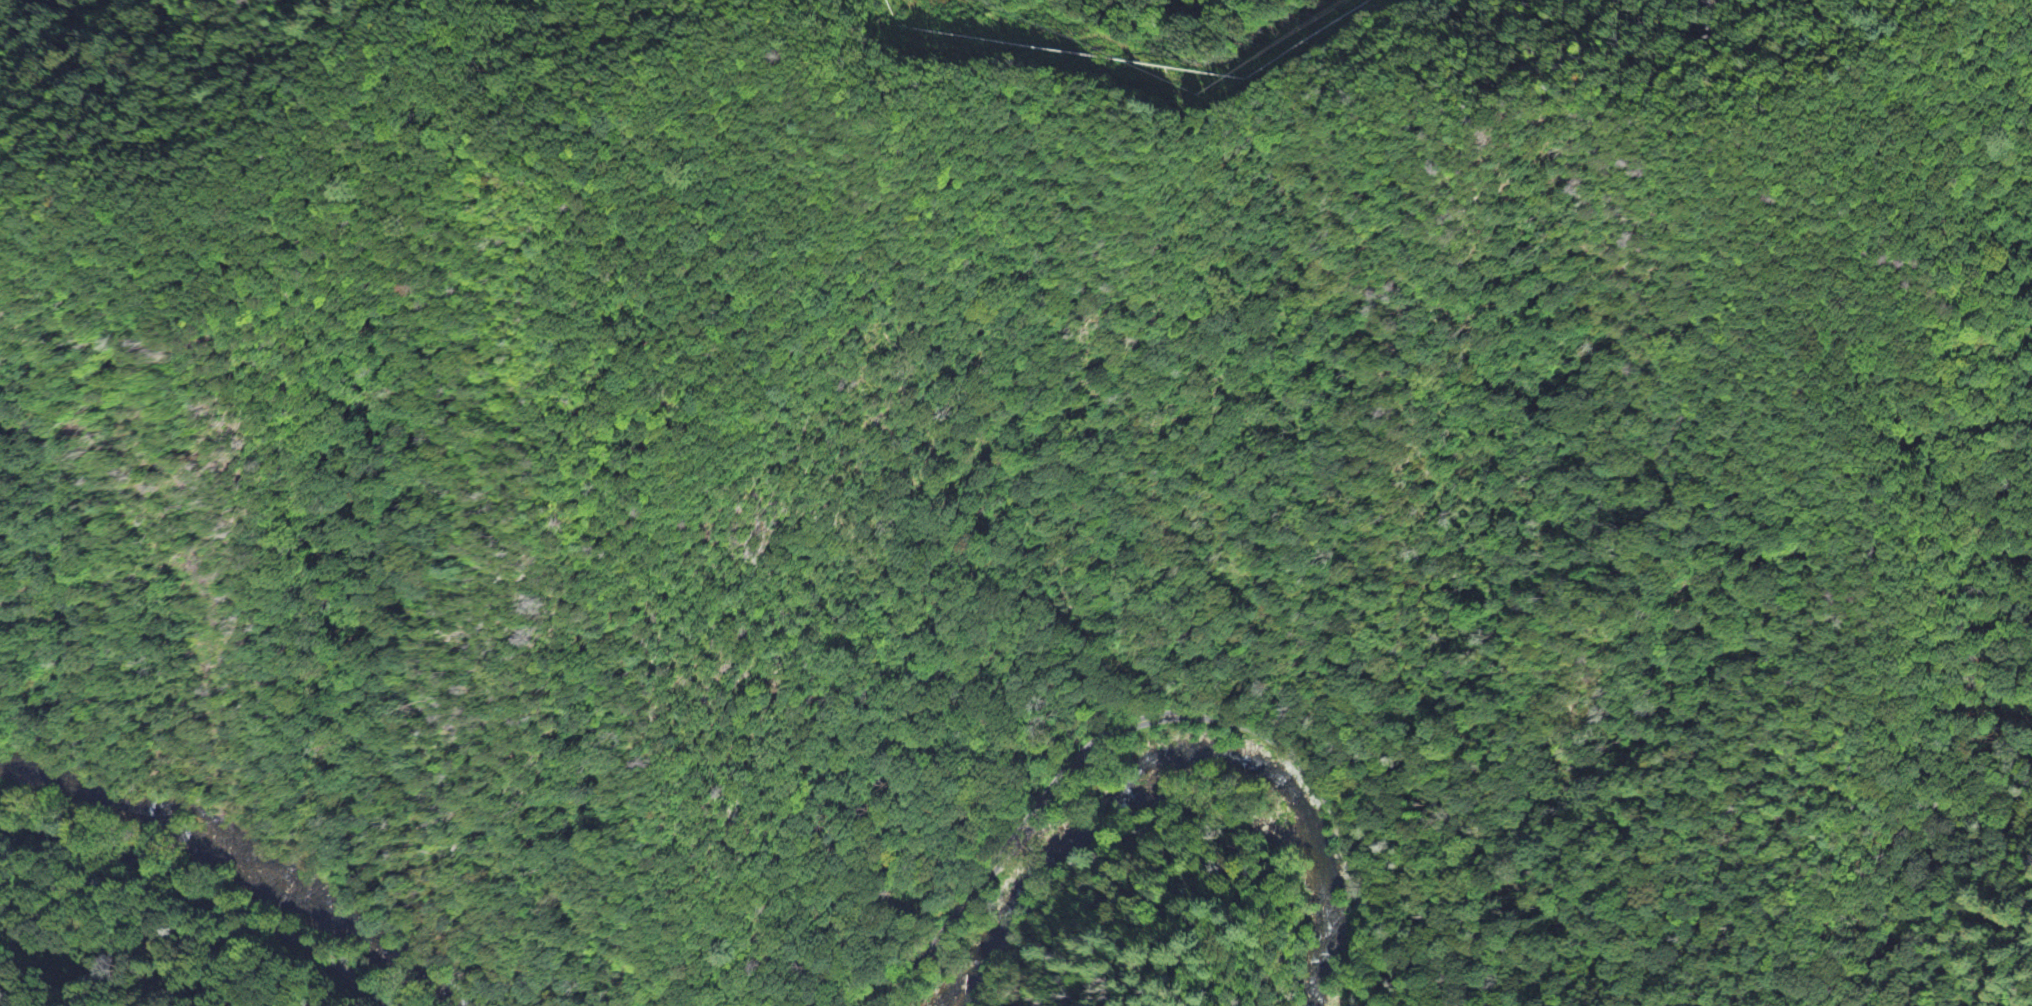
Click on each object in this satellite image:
road: (1163, 716)
river: (1166, 760)
river: (234, 866)
road: (201, 894)

